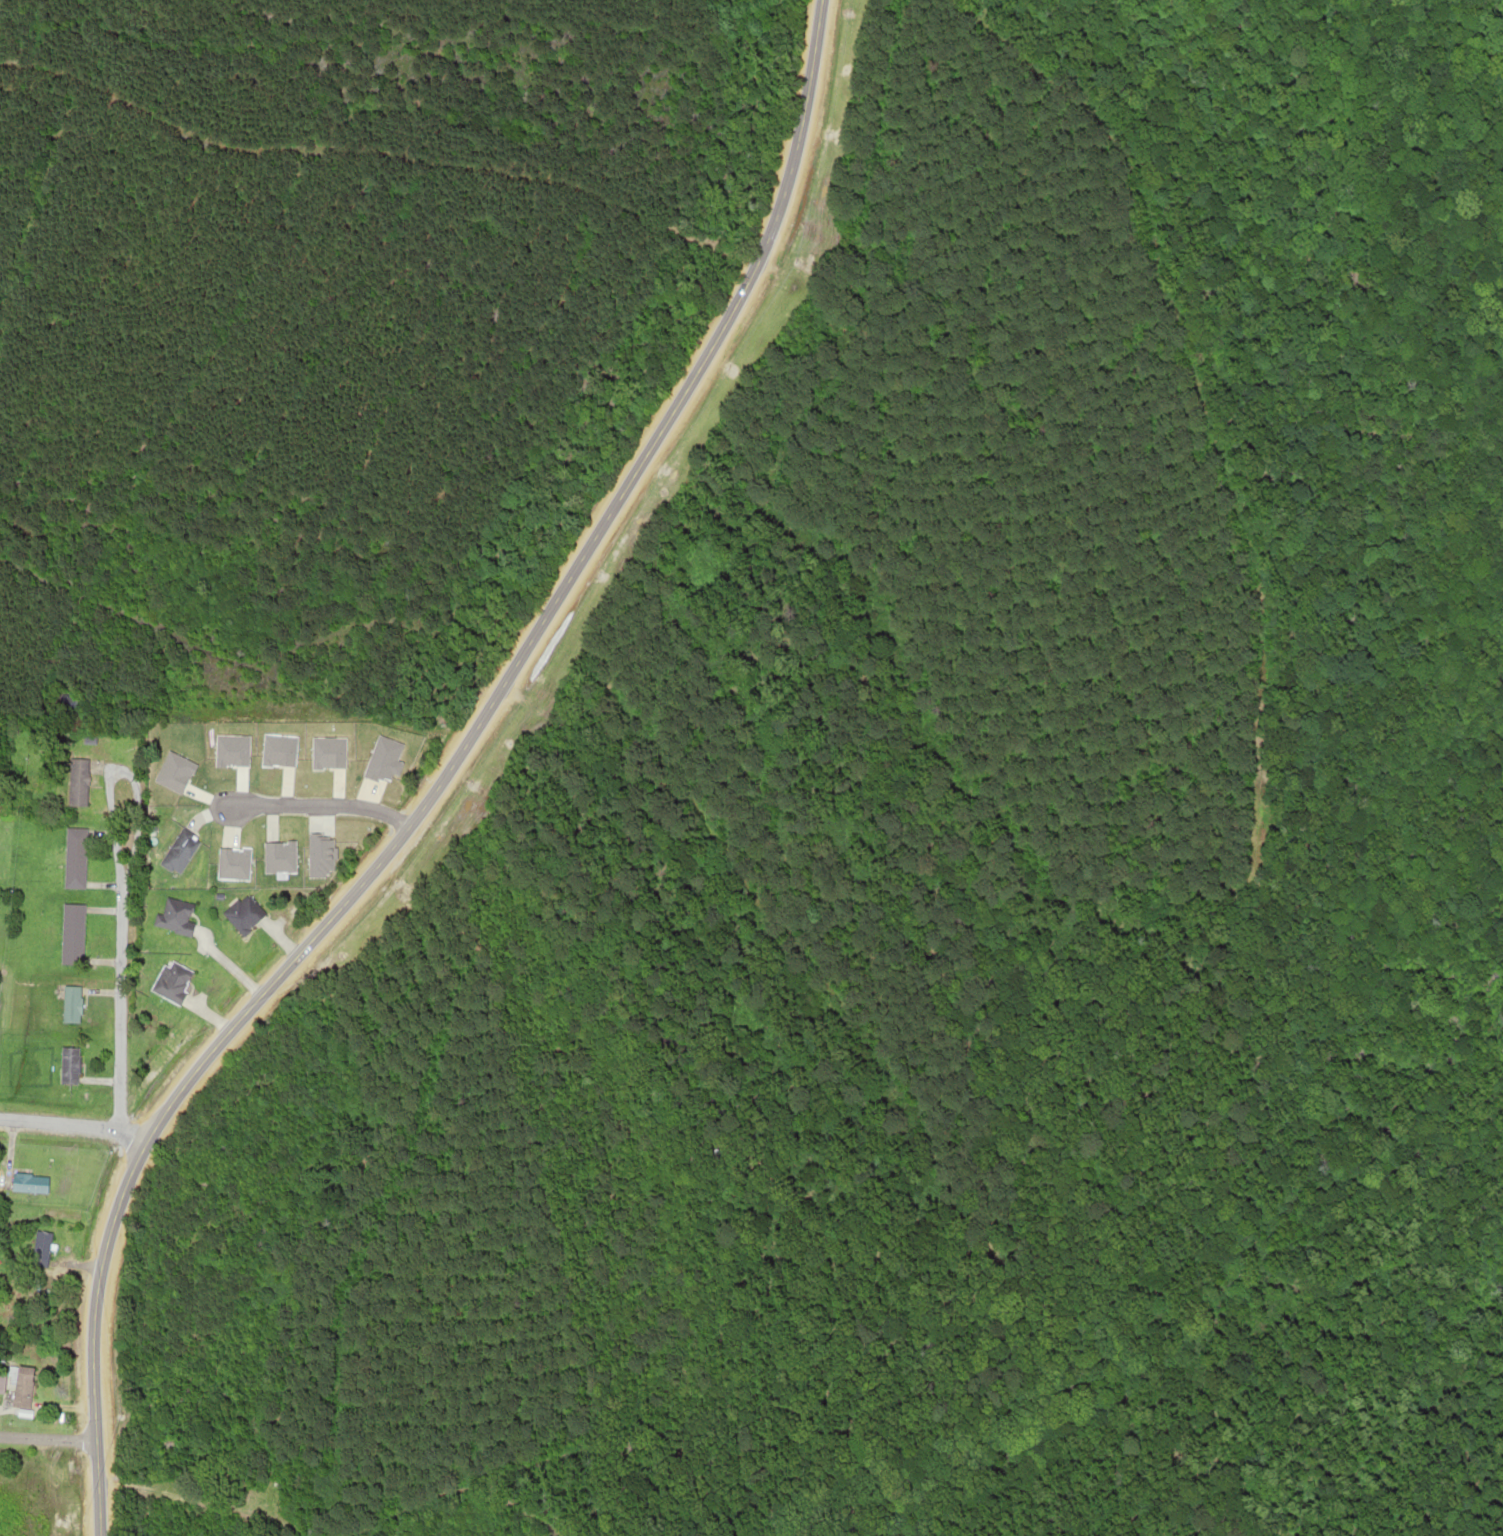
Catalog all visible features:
building: (87, 739)
road: (439, 777)
building: (78, 781)
building: (180, 847)
building: (75, 858)
road: (117, 880)
building: (244, 913)
building: (175, 914)
building: (70, 933)
building: (170, 979)
building: (70, 1003)
building: (68, 1066)
road: (70, 1123)
building: (27, 1182)
building: (1, 1378)
building: (21, 1387)
road: (46, 1438)

